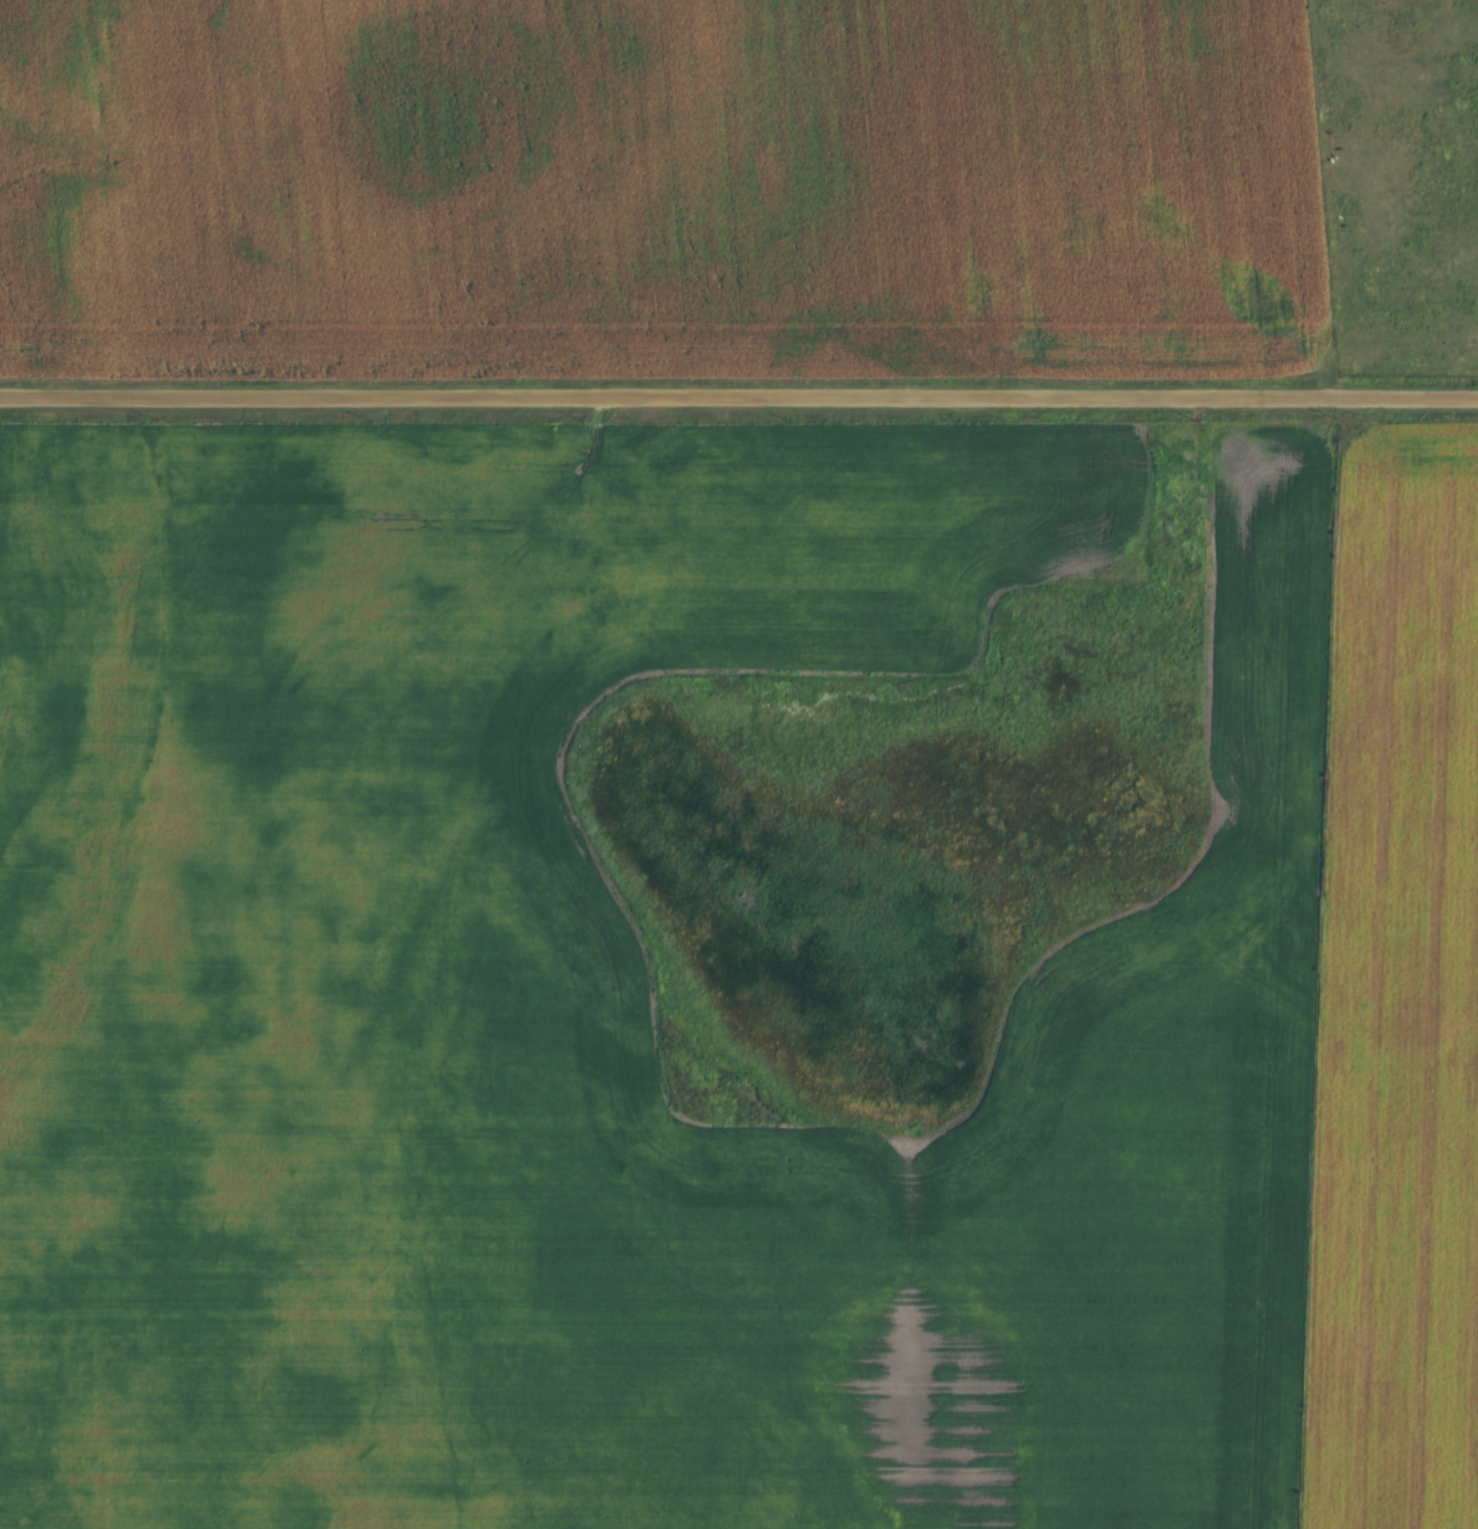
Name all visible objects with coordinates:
road: (739, 399)

